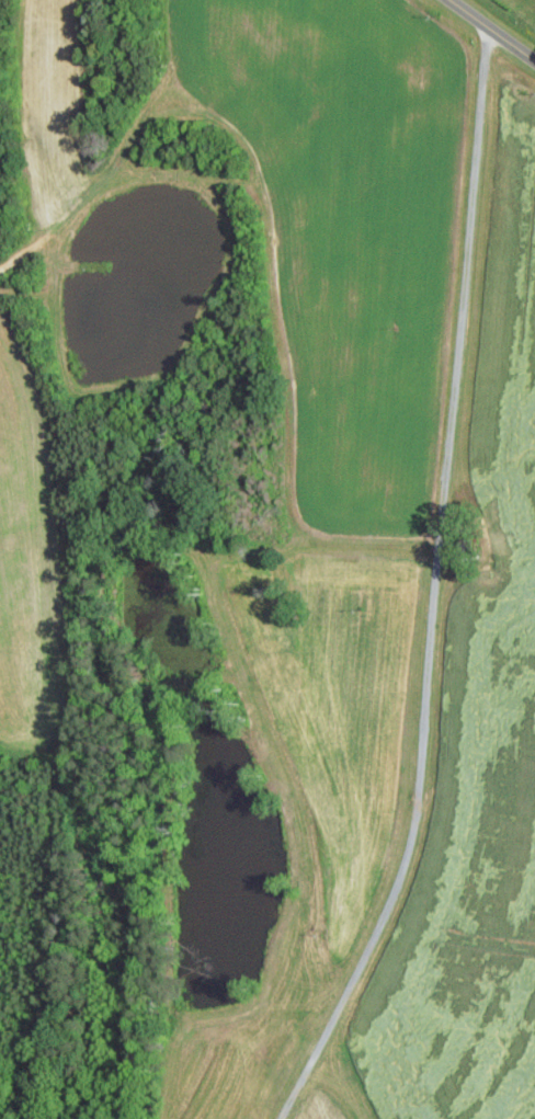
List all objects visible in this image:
road: (493, 28)
road: (161, 61)
road: (433, 584)

